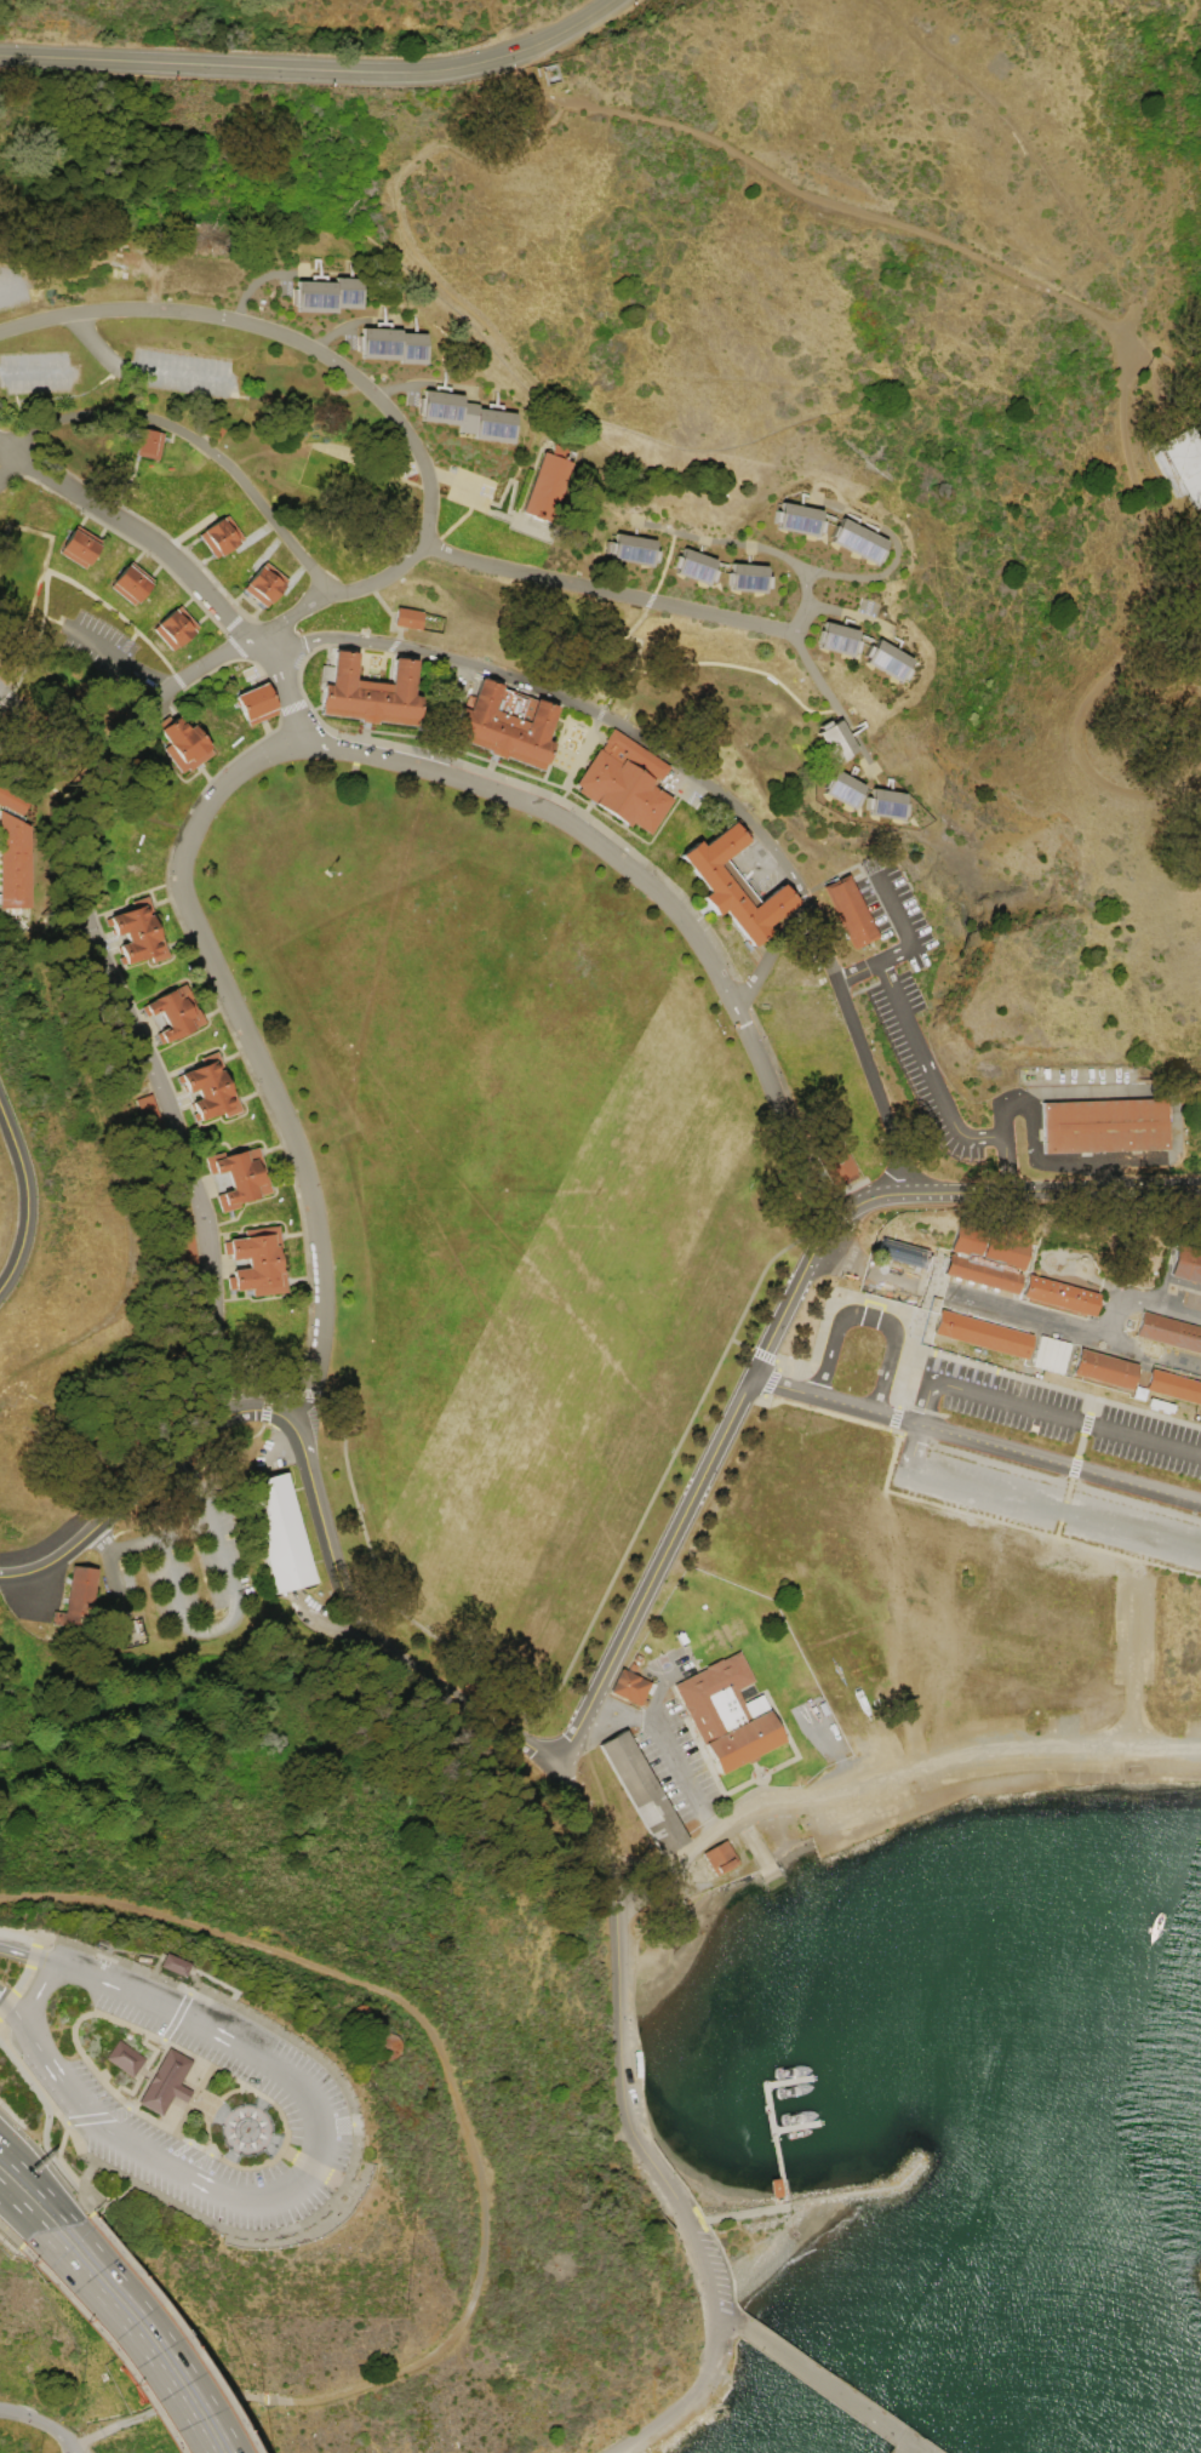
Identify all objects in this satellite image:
road: (316, 69)
road: (407, 245)
road: (10, 279)
parking lot: (11, 282)
building: (328, 296)
road: (1090, 313)
road: (278, 332)
road: (95, 344)
building: (395, 347)
parking lot: (177, 370)
parking lot: (34, 371)
road: (35, 371)
road: (176, 376)
road: (1150, 384)
building: (470, 418)
building: (212, 430)
road: (193, 442)
building: (150, 445)
building: (1184, 463)
road: (11, 465)
road: (448, 478)
road: (513, 479)
parking lot: (469, 488)
building: (553, 490)
road: (484, 504)
road: (477, 507)
road: (514, 518)
building: (801, 519)
building: (221, 537)
road: (141, 538)
building: (862, 542)
road: (753, 545)
building: (80, 550)
building: (636, 550)
building: (699, 566)
road: (502, 571)
building: (751, 577)
building: (128, 582)
building: (267, 585)
building: (406, 617)
building: (175, 628)
building: (835, 637)
road: (120, 652)
building: (886, 659)
road: (811, 668)
road: (166, 690)
building: (371, 694)
road: (286, 698)
road: (573, 703)
building: (258, 704)
building: (508, 730)
building: (833, 739)
building: (183, 742)
road: (44, 755)
building: (624, 779)
building: (840, 788)
building: (12, 801)
building: (885, 802)
road: (137, 816)
building: (15, 864)
road: (653, 887)
building: (736, 888)
building: (853, 914)
road: (907, 932)
building: (138, 934)
road: (772, 961)
building: (175, 1016)
road: (858, 1048)
road: (255, 1059)
road: (160, 1081)
building: (210, 1090)
road: (936, 1094)
building: (1104, 1128)
building: (837, 1167)
building: (240, 1179)
road: (1035, 1189)
road: (28, 1194)
building: (183, 1240)
building: (902, 1254)
building: (988, 1262)
building: (1188, 1264)
building: (253, 1266)
building: (1063, 1298)
road: (874, 1317)
road: (921, 1328)
building: (1168, 1333)
building: (983, 1337)
building: (1048, 1353)
building: (1106, 1372)
building: (1174, 1389)
parking lot: (1001, 1397)
road: (269, 1413)
road: (920, 1435)
road: (977, 1439)
parking lot: (1150, 1440)
road: (1079, 1465)
road: (705, 1476)
parking lot: (1050, 1505)
road: (119, 1510)
building: (278, 1531)
road: (225, 1580)
road: (109, 1584)
building: (75, 1597)
park: (714, 1628)
parking lot: (1132, 1631)
building: (680, 1636)
road: (381, 1641)
building: (634, 1657)
park: (663, 1659)
parking lot: (667, 1665)
road: (1133, 1665)
building: (629, 1666)
park: (800, 1666)
building: (627, 1685)
building: (650, 1685)
road: (654, 1689)
building: (642, 1698)
building: (727, 1712)
road: (622, 1714)
parking lot: (820, 1727)
road: (788, 1737)
road: (833, 1746)
road: (702, 1748)
road: (755, 1762)
parking lot: (980, 1762)
parking lot: (679, 1767)
road: (685, 1772)
road: (894, 1773)
flagpole: (761, 1774)
road: (766, 1782)
flagpole: (797, 1784)
road: (738, 1786)
building: (640, 1790)
road: (606, 1808)
road: (589, 1834)
road: (760, 1849)
building: (717, 1854)
road: (622, 1949)
road: (15, 1951)
road: (29, 1957)
building: (173, 1963)
road: (56, 1966)
road: (35, 1995)
road: (2, 1997)
road: (181, 2007)
road: (104, 2015)
road: (24, 2025)
road: (625, 2051)
building: (124, 2058)
road: (440, 2058)
road: (32, 2074)
pier: (788, 2080)
building: (165, 2082)
parking lot: (296, 2087)
pier: (768, 2106)
road: (46, 2115)
road: (262, 2117)
pier: (795, 2126)
road: (76, 2144)
road: (173, 2151)
road: (776, 2152)
road: (8, 2154)
road: (57, 2156)
road: (8, 2157)
road: (91, 2161)
road: (199, 2163)
road: (354, 2163)
road: (309, 2168)
road: (111, 2171)
road: (82, 2180)
building: (773, 2186)
road: (857, 2190)
road: (44, 2192)
pier: (778, 2202)
road: (17, 2203)
road: (85, 2205)
road: (17, 2211)
road: (38, 2225)
road: (733, 2228)
road: (8, 2235)
parking lot: (715, 2266)
road: (710, 2289)
road: (176, 2331)
road: (151, 2332)
road: (122, 2334)
road: (98, 2343)
pier: (820, 2380)
pier: (847, 2385)
road: (165, 2405)
road: (42, 2421)

